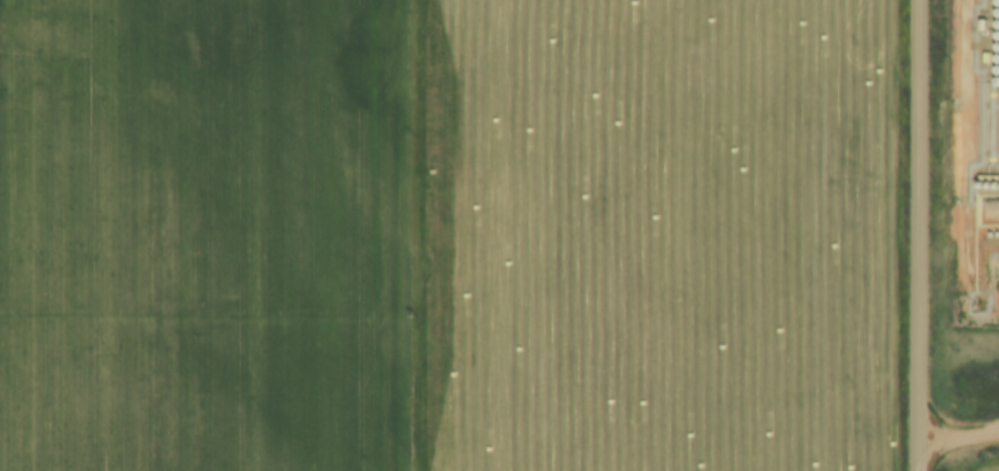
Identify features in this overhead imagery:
building: (980, 24)
road: (912, 235)
road: (956, 443)

